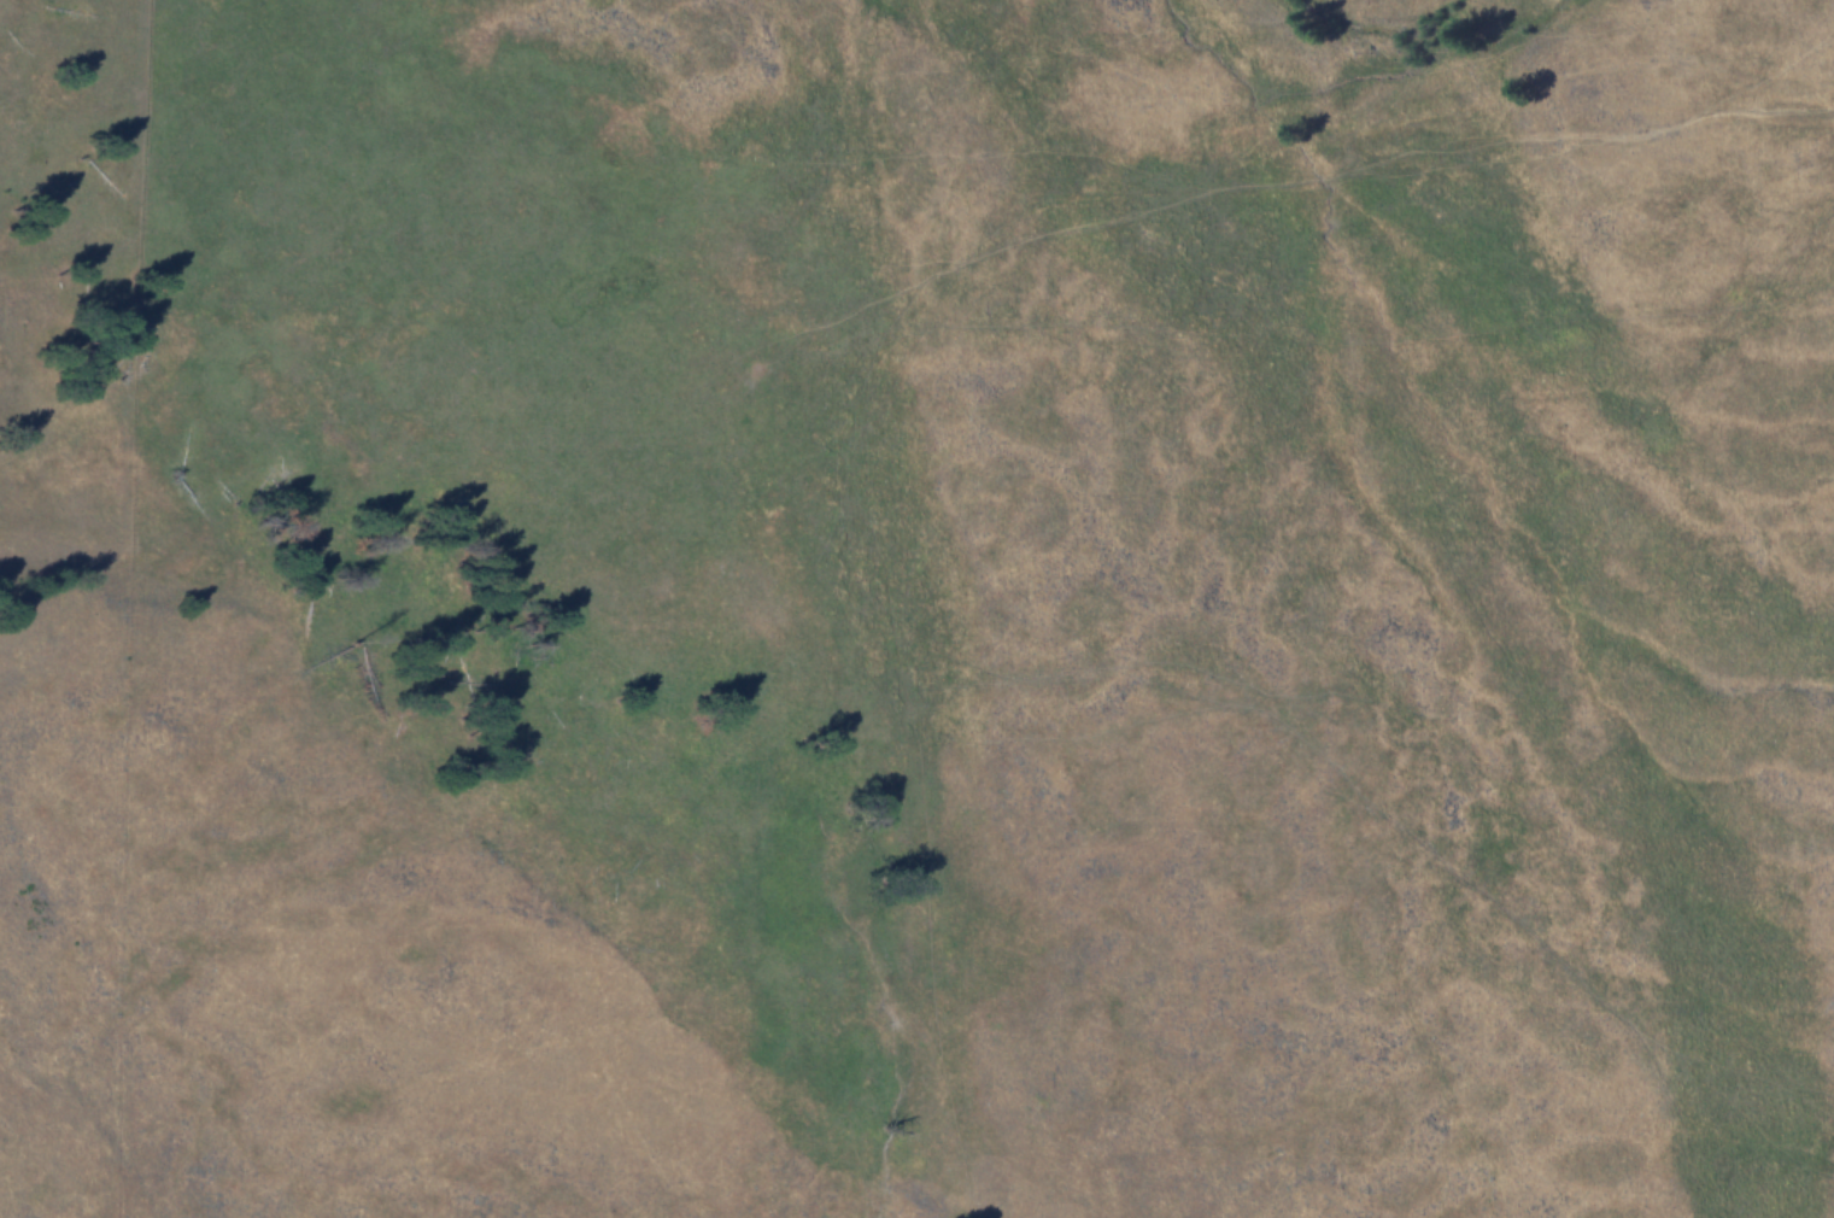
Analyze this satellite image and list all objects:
road: (1748, 6)

